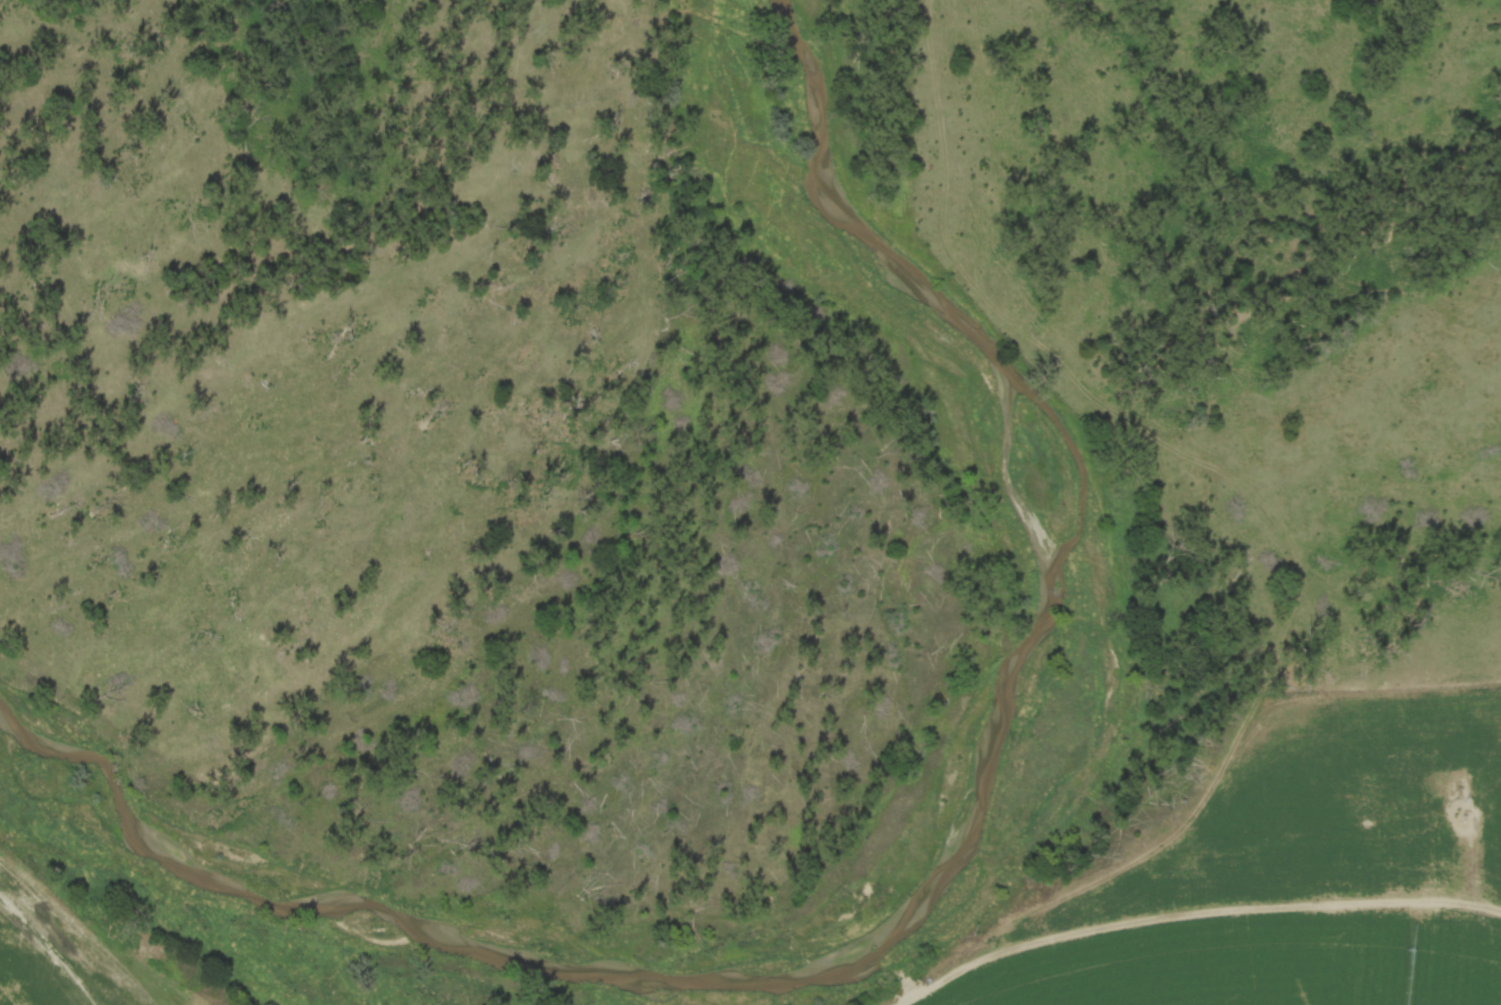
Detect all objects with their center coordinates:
river: (1075, 456)
river: (111, 775)
river: (975, 792)
river: (274, 870)

